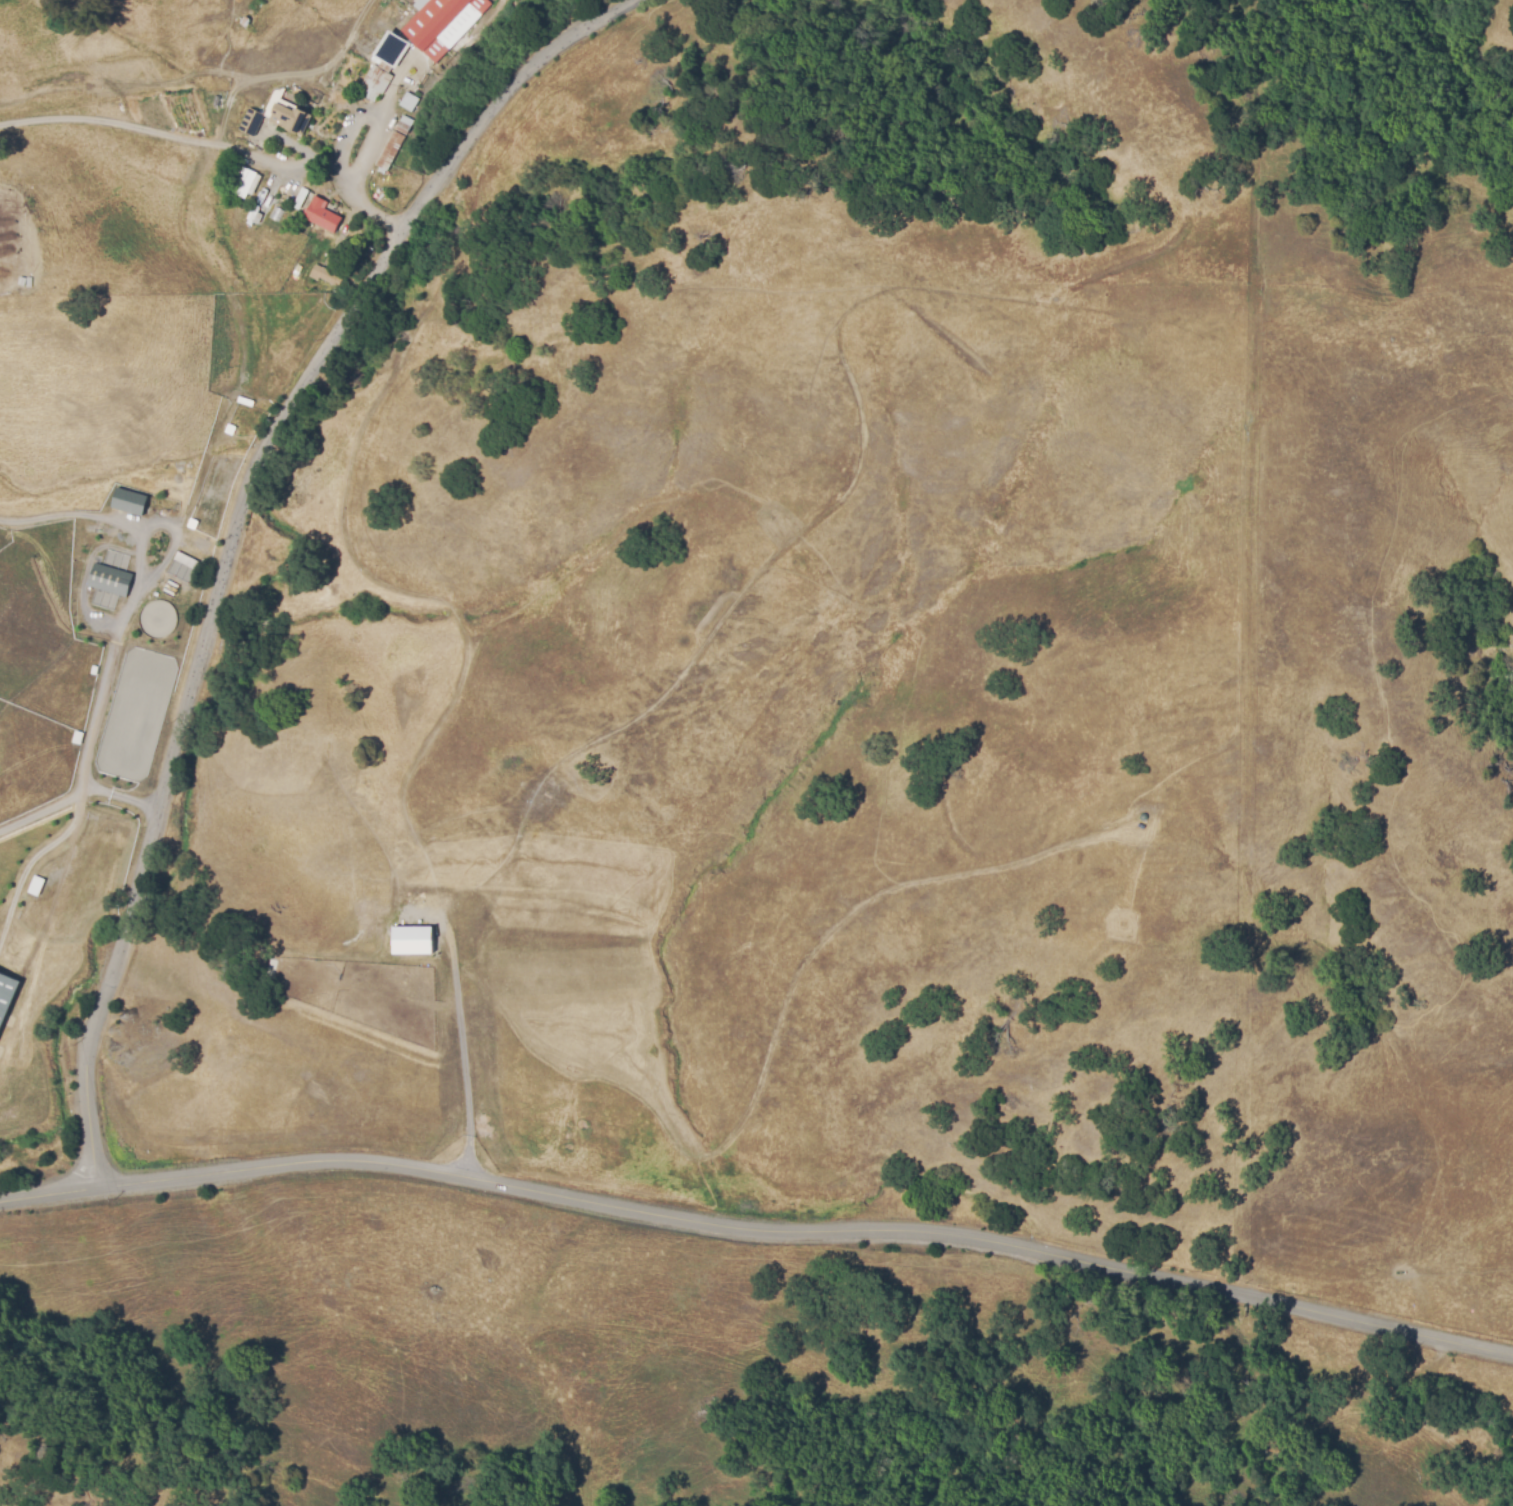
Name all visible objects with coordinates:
building: (434, 26)
building: (374, 80)
building: (406, 99)
building: (286, 116)
building: (253, 123)
building: (390, 140)
road: (362, 156)
building: (239, 178)
building: (296, 194)
building: (318, 211)
building: (321, 271)
building: (129, 500)
road: (235, 534)
building: (185, 559)
building: (109, 578)
road: (118, 628)
road: (42, 810)
building: (35, 884)
building: (412, 939)
road: (462, 1052)
road: (756, 1228)

